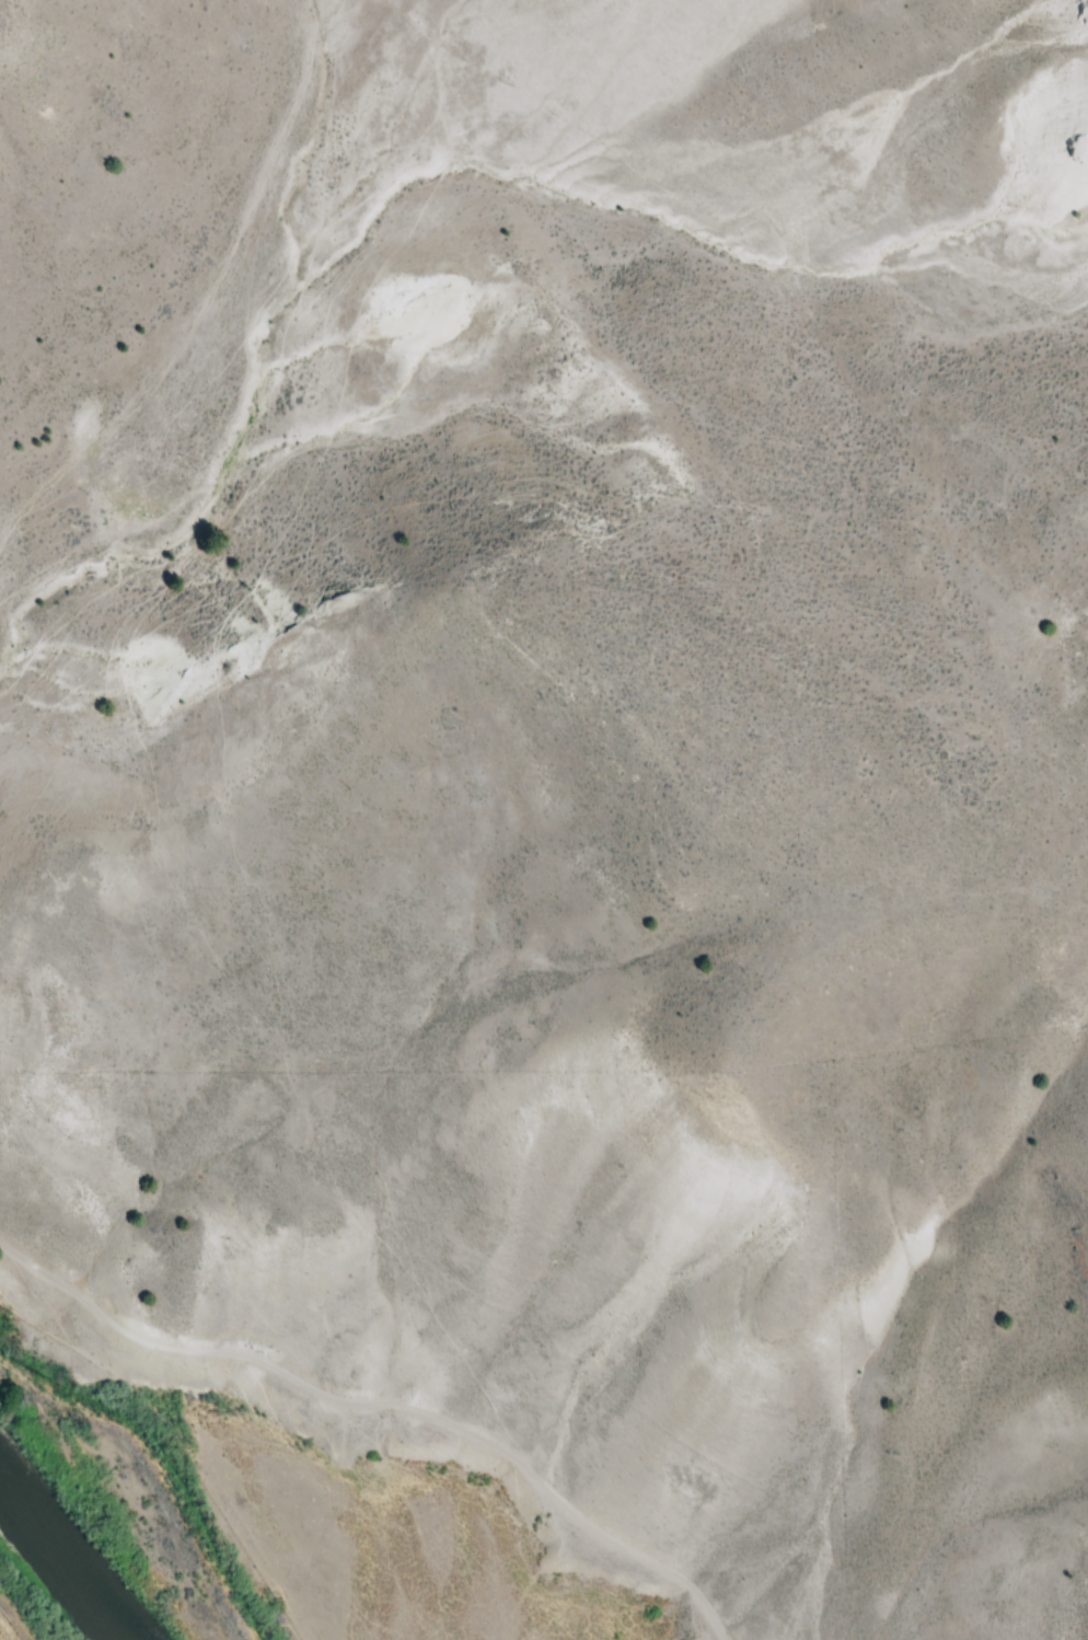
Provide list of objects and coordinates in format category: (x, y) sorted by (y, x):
river: (65, 1568)

